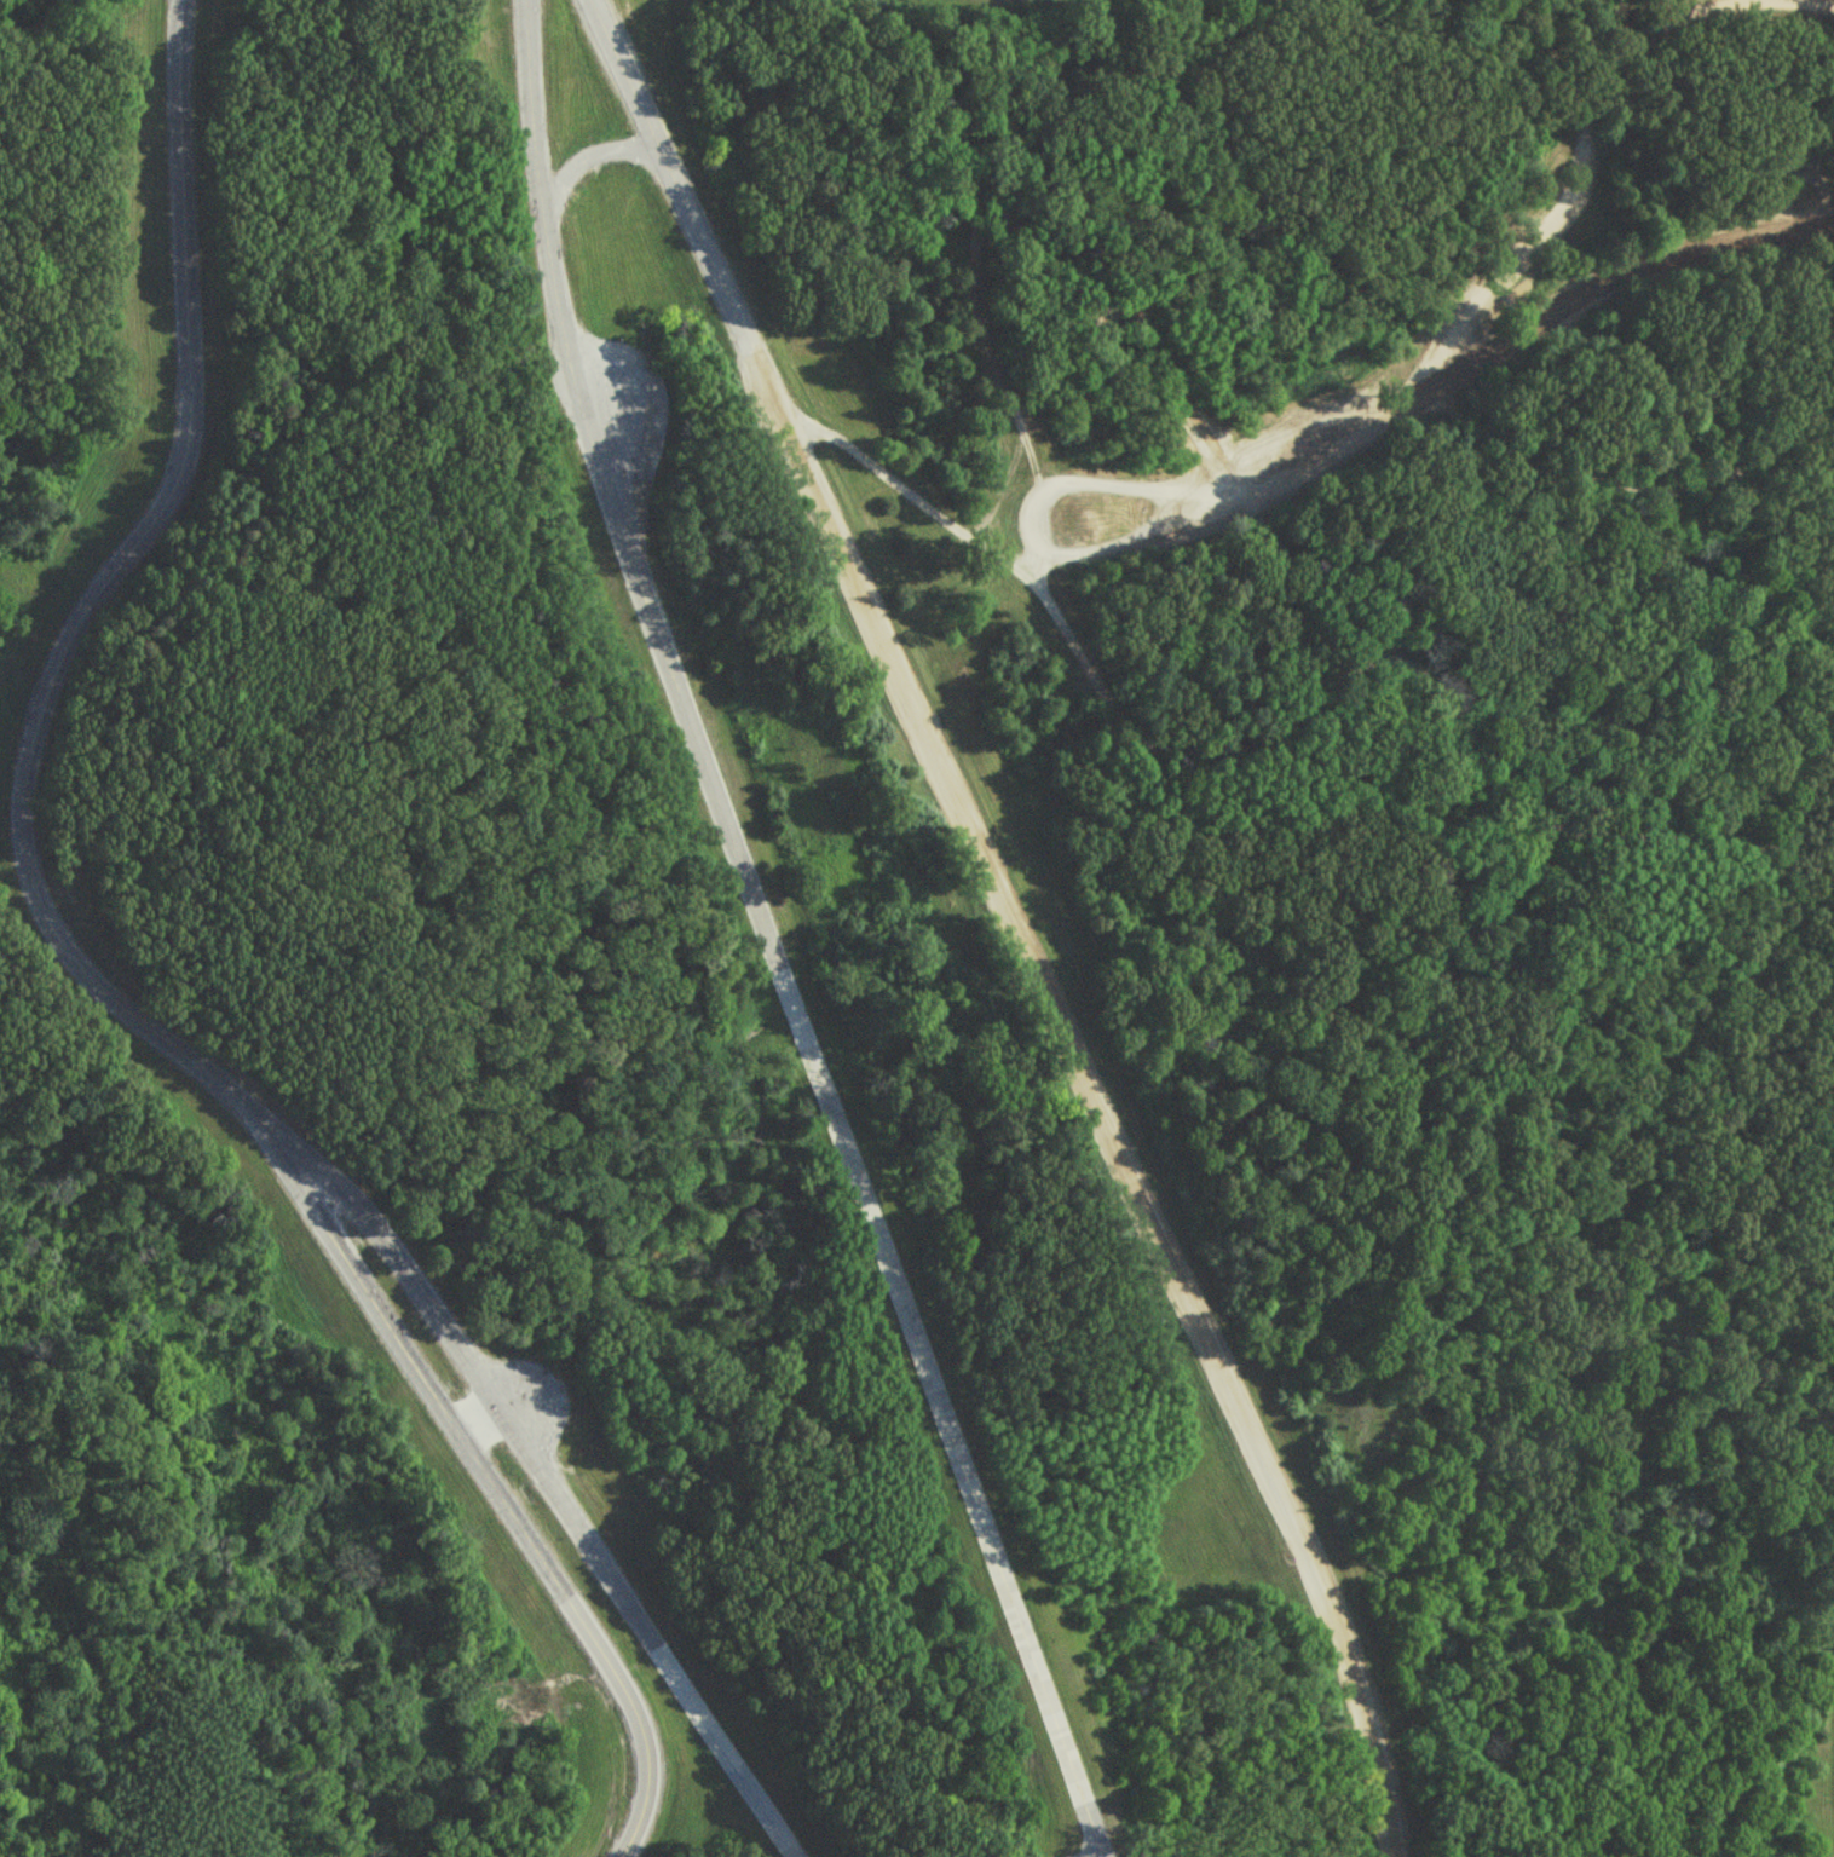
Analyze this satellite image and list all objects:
road: (1806, 2)
road: (1578, 188)
road: (1435, 403)
road: (1692, 449)
road: (1651, 497)
road: (1155, 744)
road: (1008, 924)
raceway: (768, 939)
raceway: (98, 991)
road: (550, 1489)
road: (1103, 1855)

